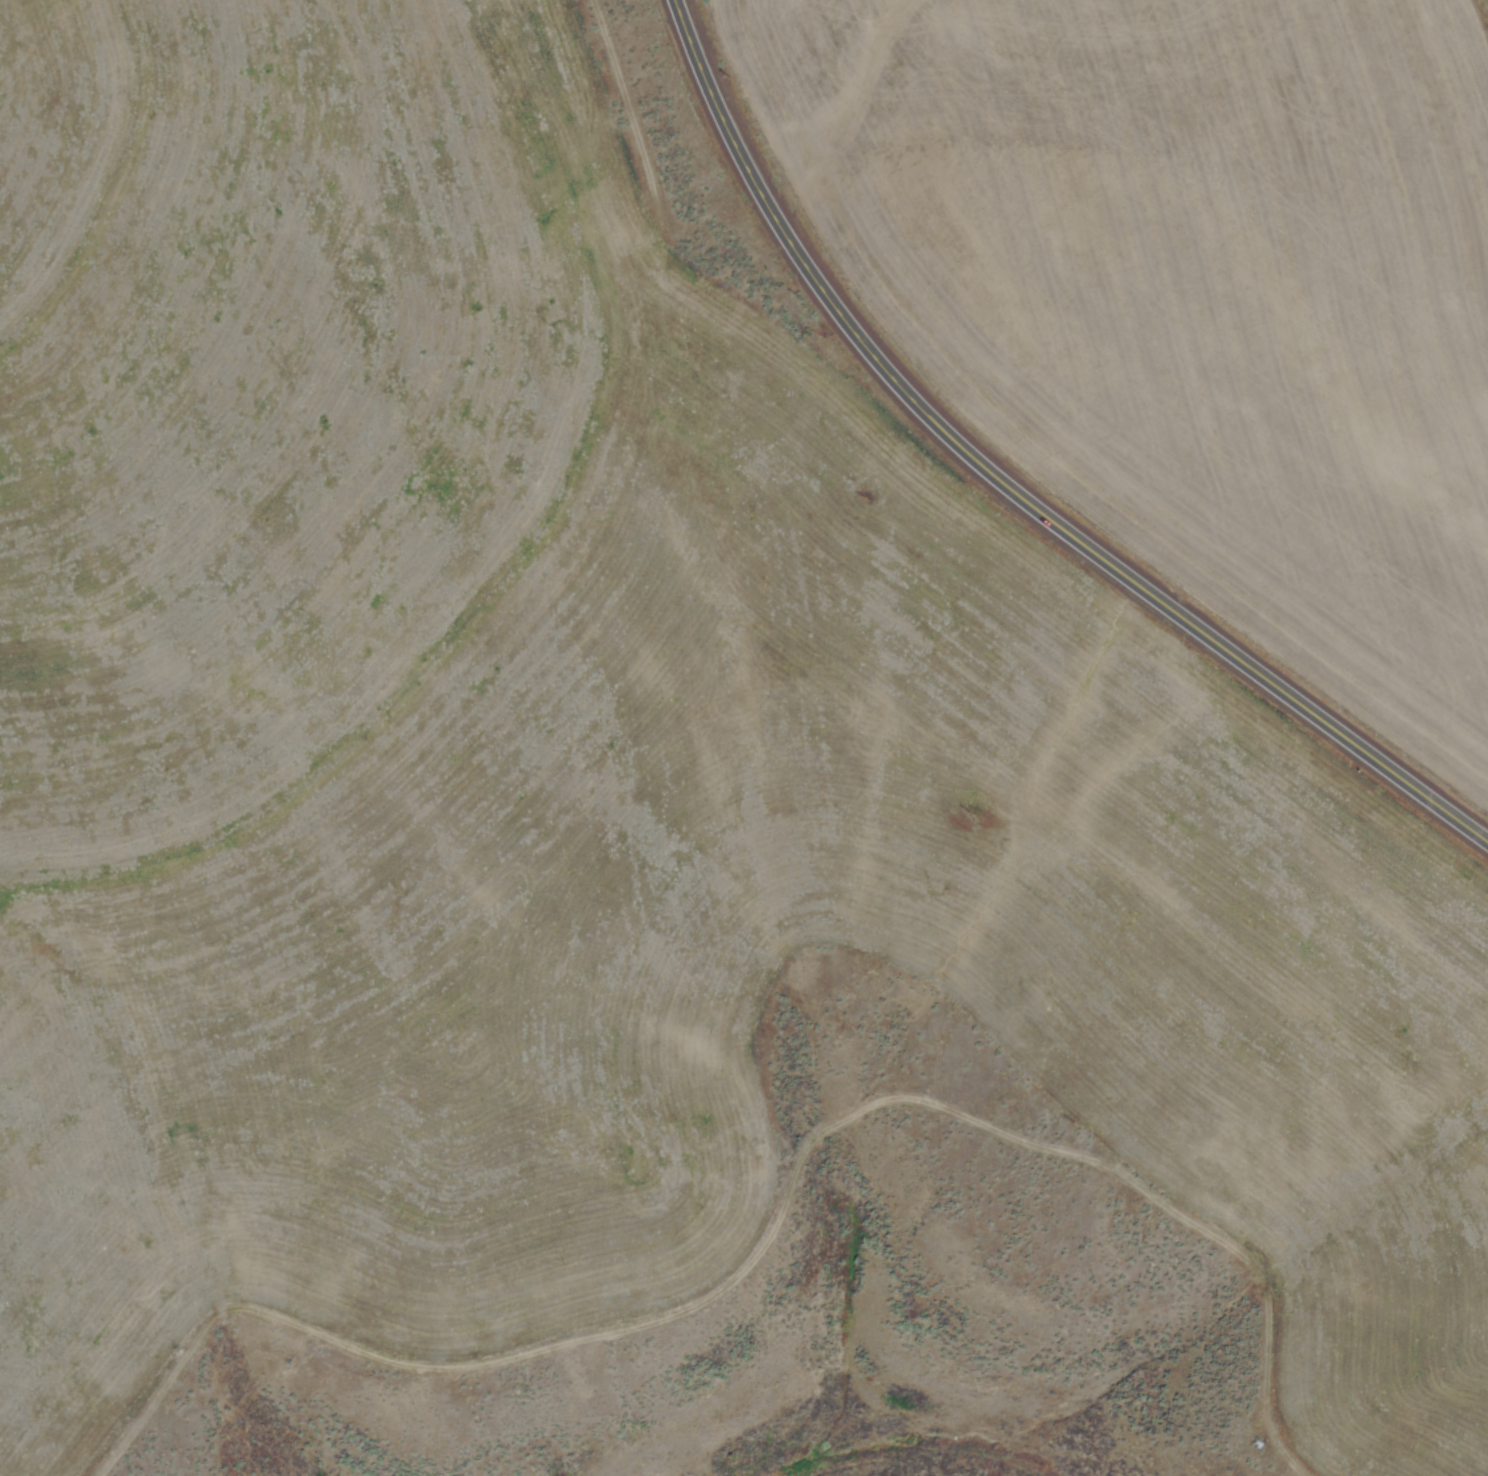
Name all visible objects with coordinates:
road: (1007, 486)

